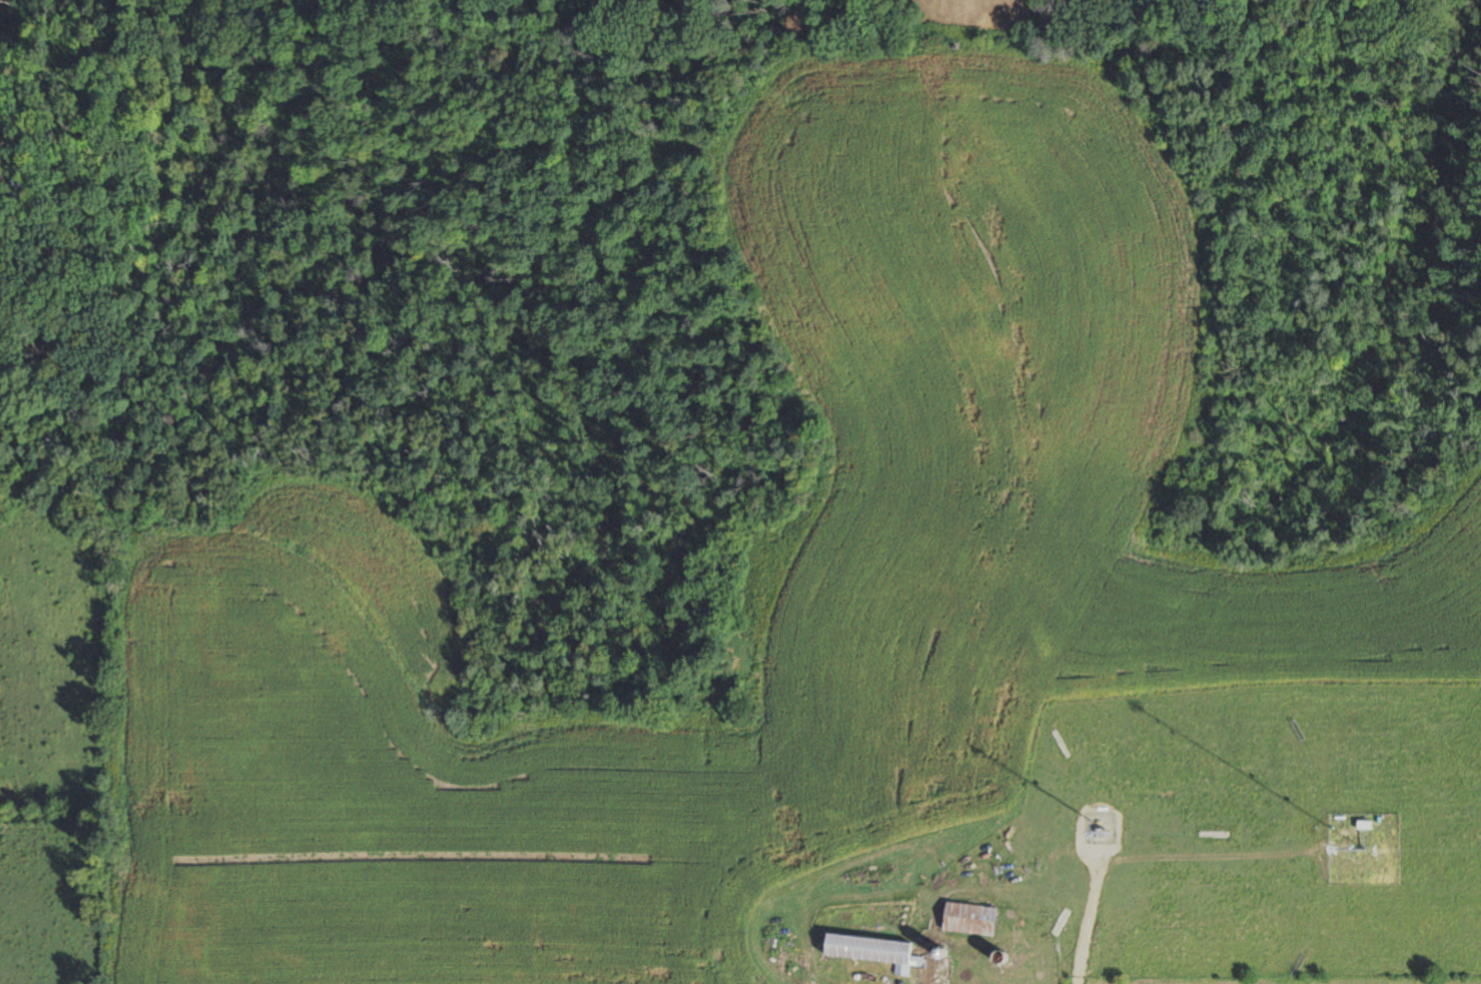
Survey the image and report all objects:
building: (958, 919)
building: (869, 952)
building: (999, 957)

